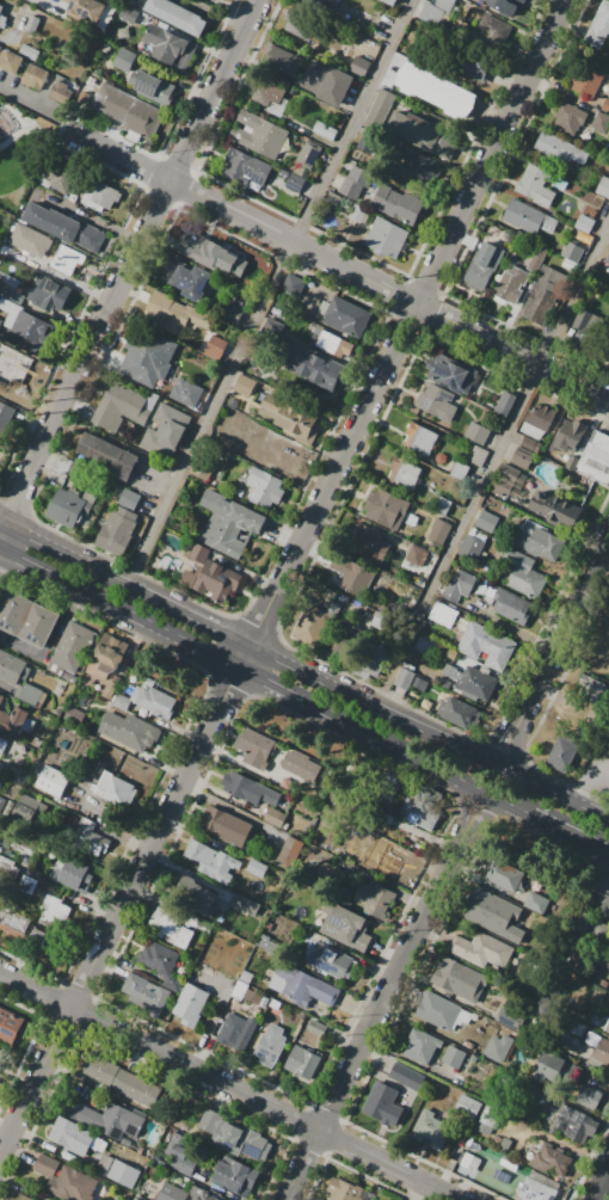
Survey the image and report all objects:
building: (389, 1)
building: (322, 4)
building: (0, 5)
road: (48, 5)
building: (504, 5)
building: (1, 8)
road: (232, 8)
building: (85, 10)
building: (433, 12)
road: (215, 13)
building: (128, 14)
building: (177, 16)
building: (2, 20)
building: (30, 24)
building: (301, 24)
building: (598, 26)
building: (122, 32)
building: (487, 33)
building: (168, 47)
building: (29, 51)
building: (124, 59)
building: (281, 60)
building: (11, 61)
building: (465, 63)
building: (359, 66)
building: (35, 76)
building: (585, 79)
building: (326, 82)
building: (152, 87)
building: (435, 90)
building: (59, 91)
building: (84, 97)
building: (269, 97)
building: (605, 106)
road: (39, 109)
building: (380, 109)
building: (128, 110)
building: (568, 117)
building: (601, 122)
building: (262, 125)
road: (29, 130)
building: (325, 130)
building: (420, 134)
road: (12, 139)
building: (254, 141)
building: (559, 148)
park: (20, 152)
building: (308, 154)
building: (413, 161)
building: (245, 167)
building: (283, 173)
building: (57, 176)
building: (355, 181)
building: (295, 183)
building: (535, 185)
building: (603, 186)
building: (100, 196)
building: (333, 198)
building: (399, 204)
building: (356, 213)
building: (529, 217)
road: (93, 219)
building: (584, 223)
building: (64, 226)
building: (386, 238)
building: (31, 240)
building: (572, 252)
building: (210, 253)
building: (607, 258)
building: (67, 259)
road: (127, 261)
road: (340, 269)
building: (481, 269)
building: (185, 278)
road: (64, 279)
building: (294, 284)
building: (511, 284)
road: (269, 291)
building: (48, 294)
building: (11, 295)
building: (542, 295)
building: (172, 314)
building: (232, 314)
building: (345, 316)
road: (60, 320)
building: (0, 321)
building: (585, 326)
building: (32, 327)
building: (272, 328)
building: (334, 345)
building: (215, 347)
road: (39, 351)
building: (147, 358)
building: (310, 363)
building: (607, 363)
building: (18, 371)
building: (451, 377)
building: (245, 386)
building: (186, 393)
building: (503, 402)
building: (435, 404)
building: (123, 406)
building: (5, 416)
building: (293, 418)
building: (534, 421)
building: (165, 431)
building: (476, 435)
building: (568, 437)
building: (420, 439)
building: (576, 451)
building: (107, 455)
building: (478, 456)
building: (523, 459)
building: (596, 459)
road: (491, 463)
building: (62, 466)
building: (203, 466)
building: (75, 468)
building: (459, 472)
building: (402, 475)
building: (513, 476)
building: (258, 484)
building: (506, 490)
building: (272, 492)
building: (128, 498)
building: (442, 505)
building: (69, 506)
building: (386, 510)
building: (554, 510)
building: (485, 522)
building: (229, 527)
building: (116, 531)
building: (437, 533)
building: (539, 543)
building: (368, 546)
building: (472, 547)
building: (416, 556)
building: (521, 574)
road: (282, 576)
building: (358, 577)
building: (211, 580)
building: (461, 587)
building: (511, 607)
building: (443, 615)
building: (26, 617)
building: (379, 619)
building: (315, 622)
building: (344, 640)
road: (197, 645)
road: (248, 645)
building: (485, 645)
building: (72, 647)
road: (555, 654)
building: (106, 656)
building: (368, 659)
building: (12, 667)
building: (402, 679)
building: (442, 682)
building: (418, 683)
building: (476, 684)
building: (589, 688)
building: (109, 689)
building: (27, 694)
building: (1, 699)
building: (123, 702)
building: (156, 702)
building: (425, 703)
building: (456, 714)
building: (73, 715)
building: (13, 721)
building: (128, 730)
building: (36, 741)
building: (2, 746)
building: (256, 747)
building: (561, 753)
building: (301, 765)
building: (2, 769)
building: (136, 769)
road: (586, 775)
building: (21, 777)
road: (463, 779)
building: (51, 781)
building: (112, 788)
road: (554, 789)
building: (254, 792)
building: (2, 804)
building: (32, 810)
building: (420, 816)
building: (275, 817)
building: (222, 826)
road: (571, 836)
building: (90, 837)
building: (23, 847)
building: (289, 850)
building: (210, 860)
building: (388, 866)
building: (257, 868)
building: (76, 875)
building: (503, 875)
building: (27, 885)
building: (195, 896)
building: (602, 897)
building: (375, 900)
building: (535, 901)
building: (245, 905)
building: (486, 906)
building: (55, 912)
building: (14, 923)
building: (203, 927)
building: (168, 928)
building: (345, 930)
building: (481, 949)
building: (327, 961)
building: (160, 964)
building: (460, 978)
building: (301, 986)
building: (146, 995)
road: (385, 995)
building: (189, 1005)
building: (441, 1013)
building: (607, 1027)
building: (11, 1028)
building: (233, 1030)
building: (271, 1045)
building: (420, 1045)
building: (499, 1048)
building: (601, 1051)
building: (2, 1057)
building: (454, 1058)
building: (303, 1063)
building: (556, 1070)
building: (406, 1076)
building: (116, 1078)
road: (227, 1085)
building: (589, 1096)
building: (382, 1103)
building: (467, 1109)
building: (490, 1119)
building: (107, 1121)
building: (210, 1121)
building: (574, 1125)
building: (431, 1131)
building: (72, 1137)
building: (241, 1141)
building: (180, 1153)
building: (550, 1159)
building: (47, 1167)
road: (608, 1170)
building: (117, 1173)
building: (234, 1177)
building: (75, 1184)
road: (599, 1186)
building: (344, 1189)
building: (535, 1190)
building: (171, 1193)
building: (207, 1196)
building: (23, 1198)
building: (136, 1199)
building: (227, 1199)

